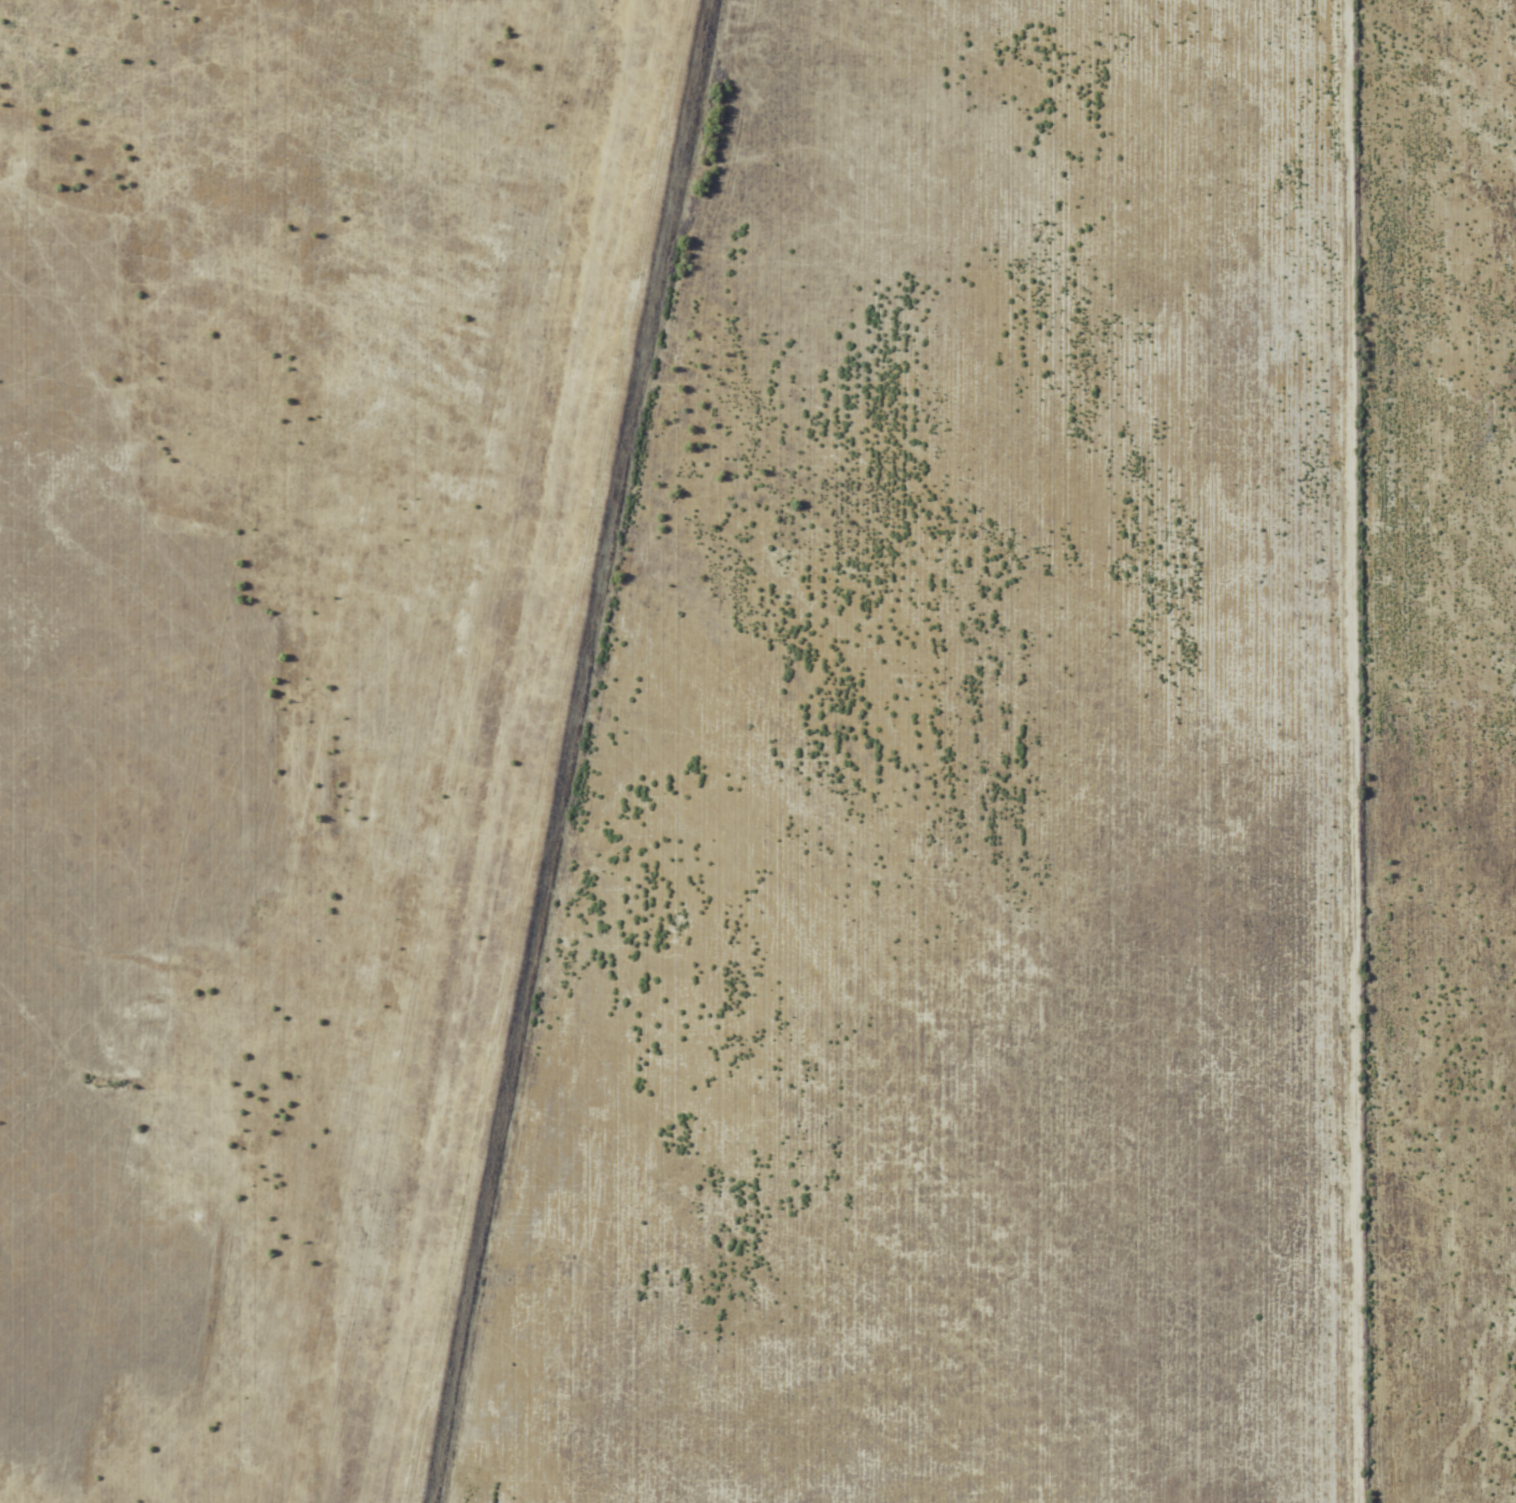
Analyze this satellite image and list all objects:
road: (1329, 751)

